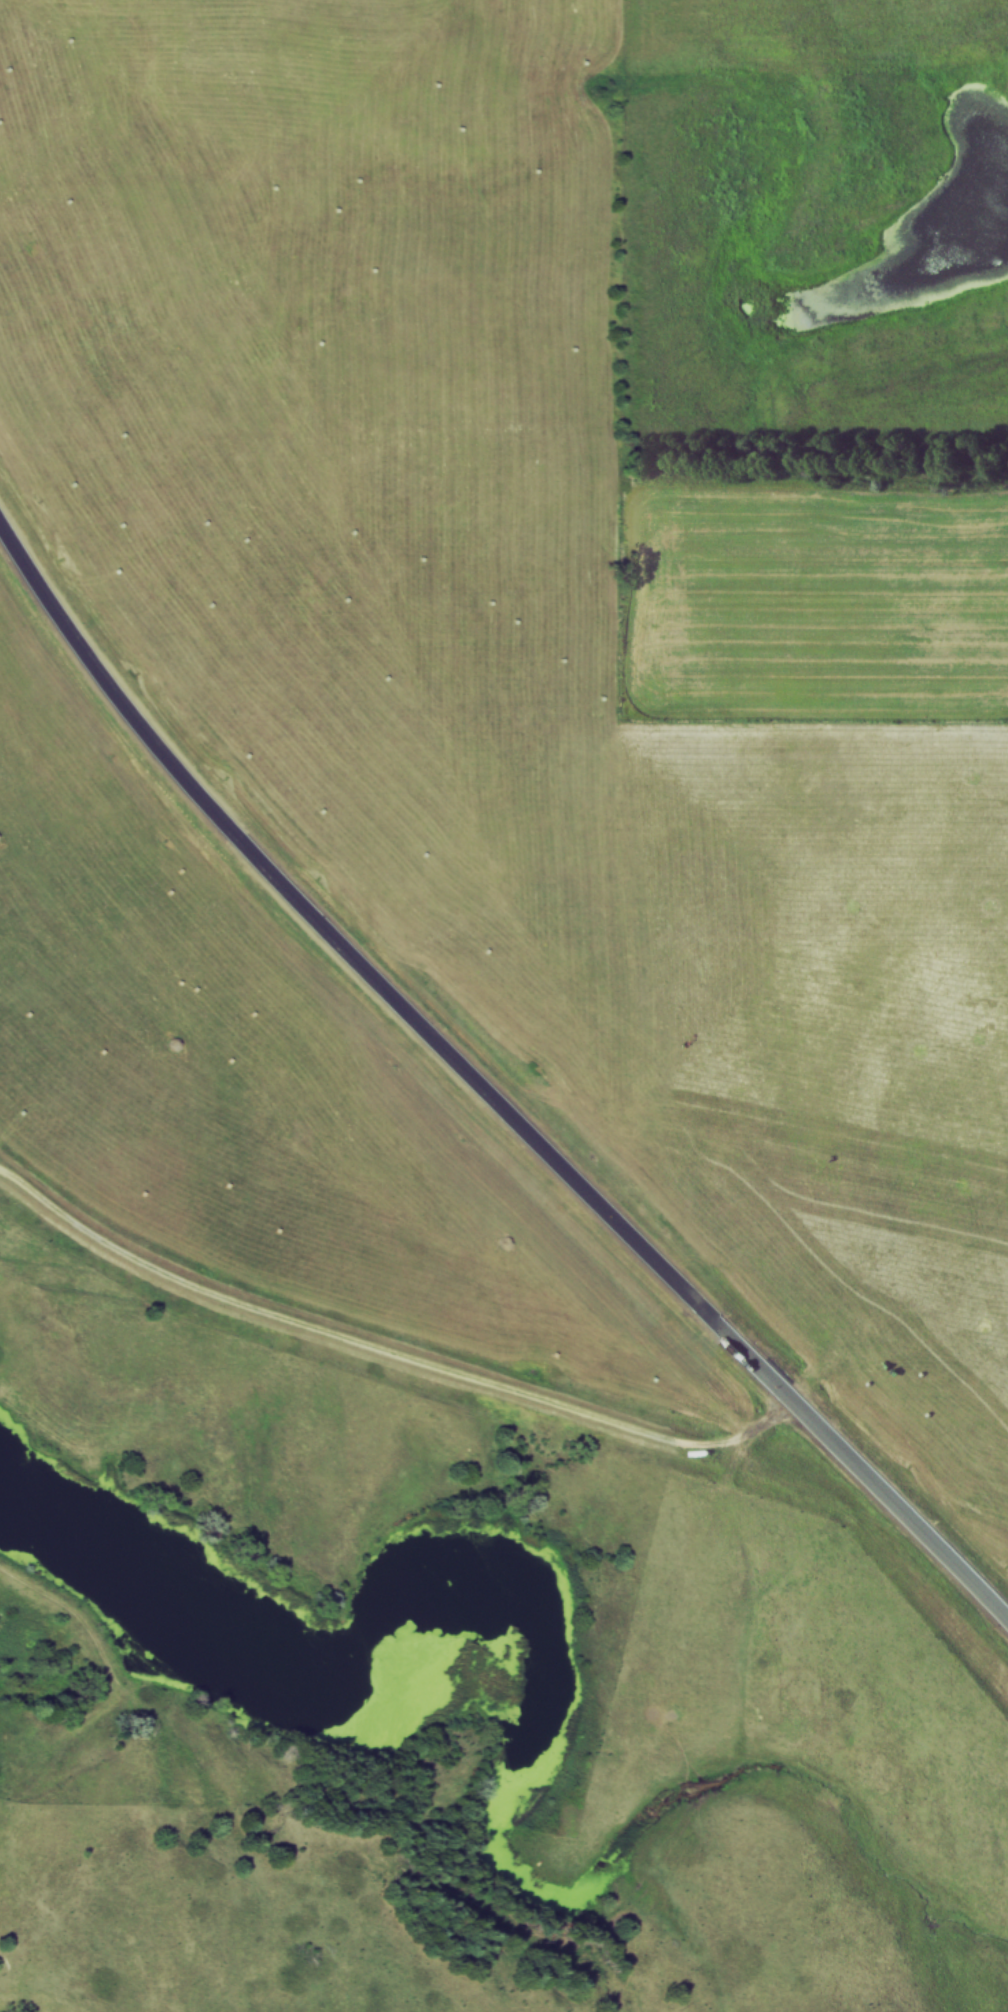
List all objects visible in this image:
road: (482, 1095)
road: (389, 1362)

